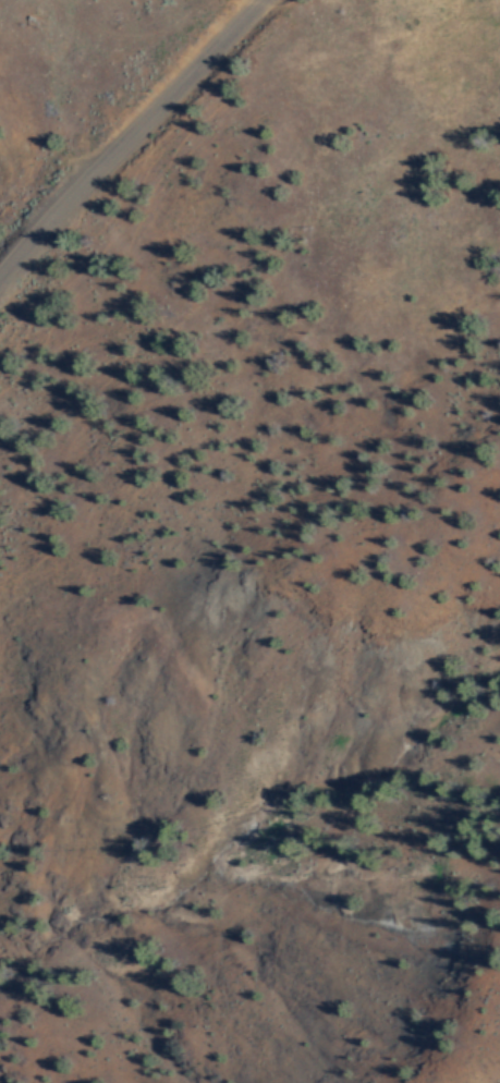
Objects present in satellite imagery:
road: (88, 108)

